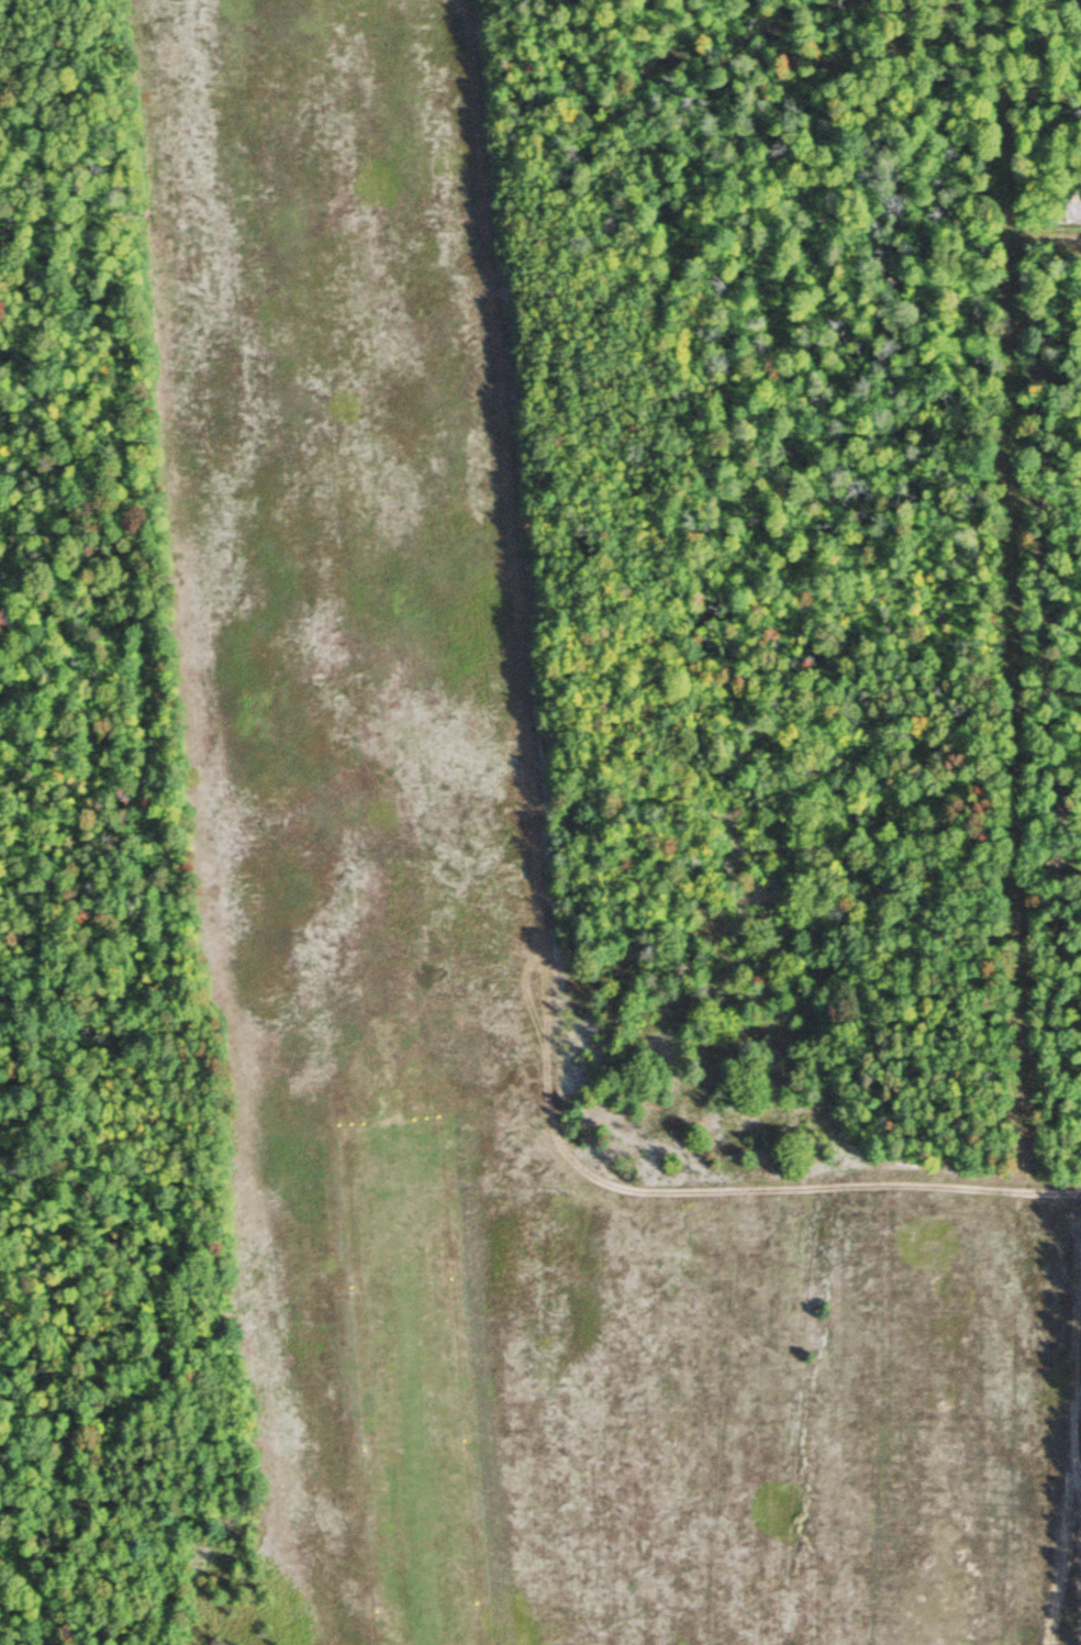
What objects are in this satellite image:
airport runway: (398, 1380)

